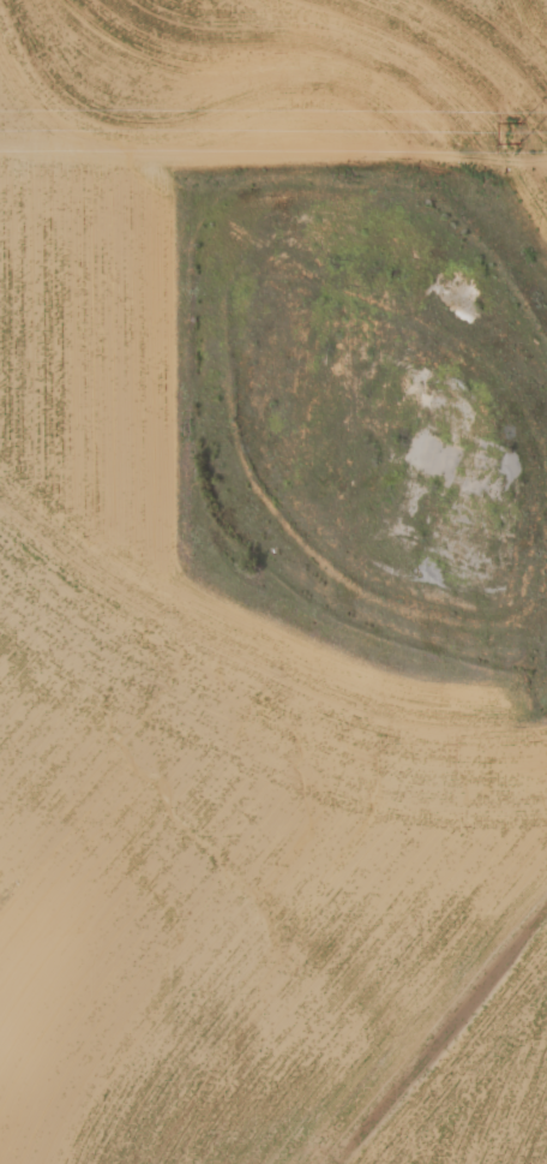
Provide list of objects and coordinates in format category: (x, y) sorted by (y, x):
power tower: (517, 130)
road: (285, 252)

